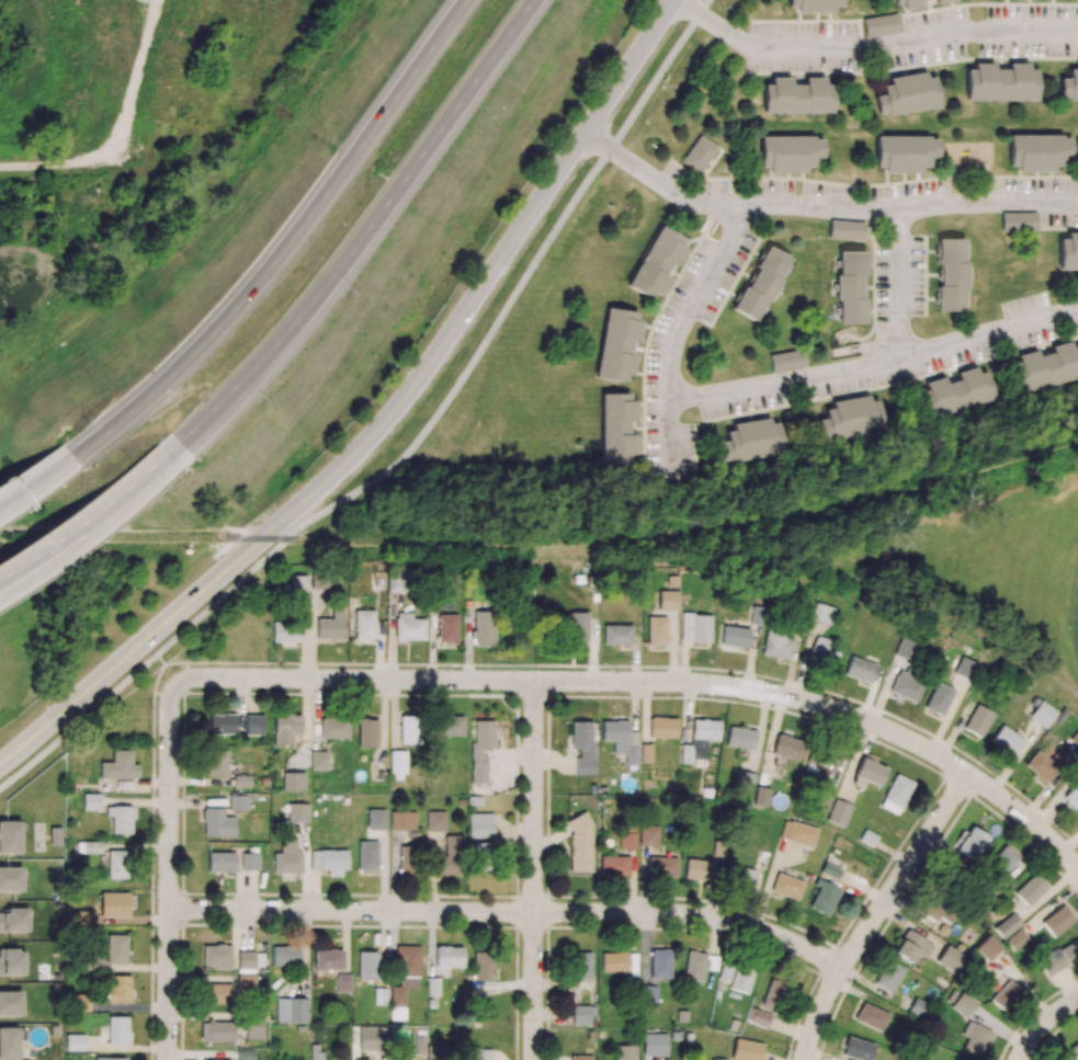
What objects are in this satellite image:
road: (704, 7)
road: (871, 47)
road: (63, 168)
road: (820, 208)
road: (362, 235)
road: (282, 246)
crop: (22, 277)
road: (901, 283)
road: (678, 335)
road: (875, 363)
road: (384, 422)
road: (407, 454)
road: (32, 481)
road: (4, 499)
road: (86, 516)
road: (71, 543)
park: (1018, 555)
park: (1074, 619)
road: (653, 682)
road: (534, 869)
road: (169, 870)
road: (511, 912)
road: (877, 912)
road: (1043, 1025)

